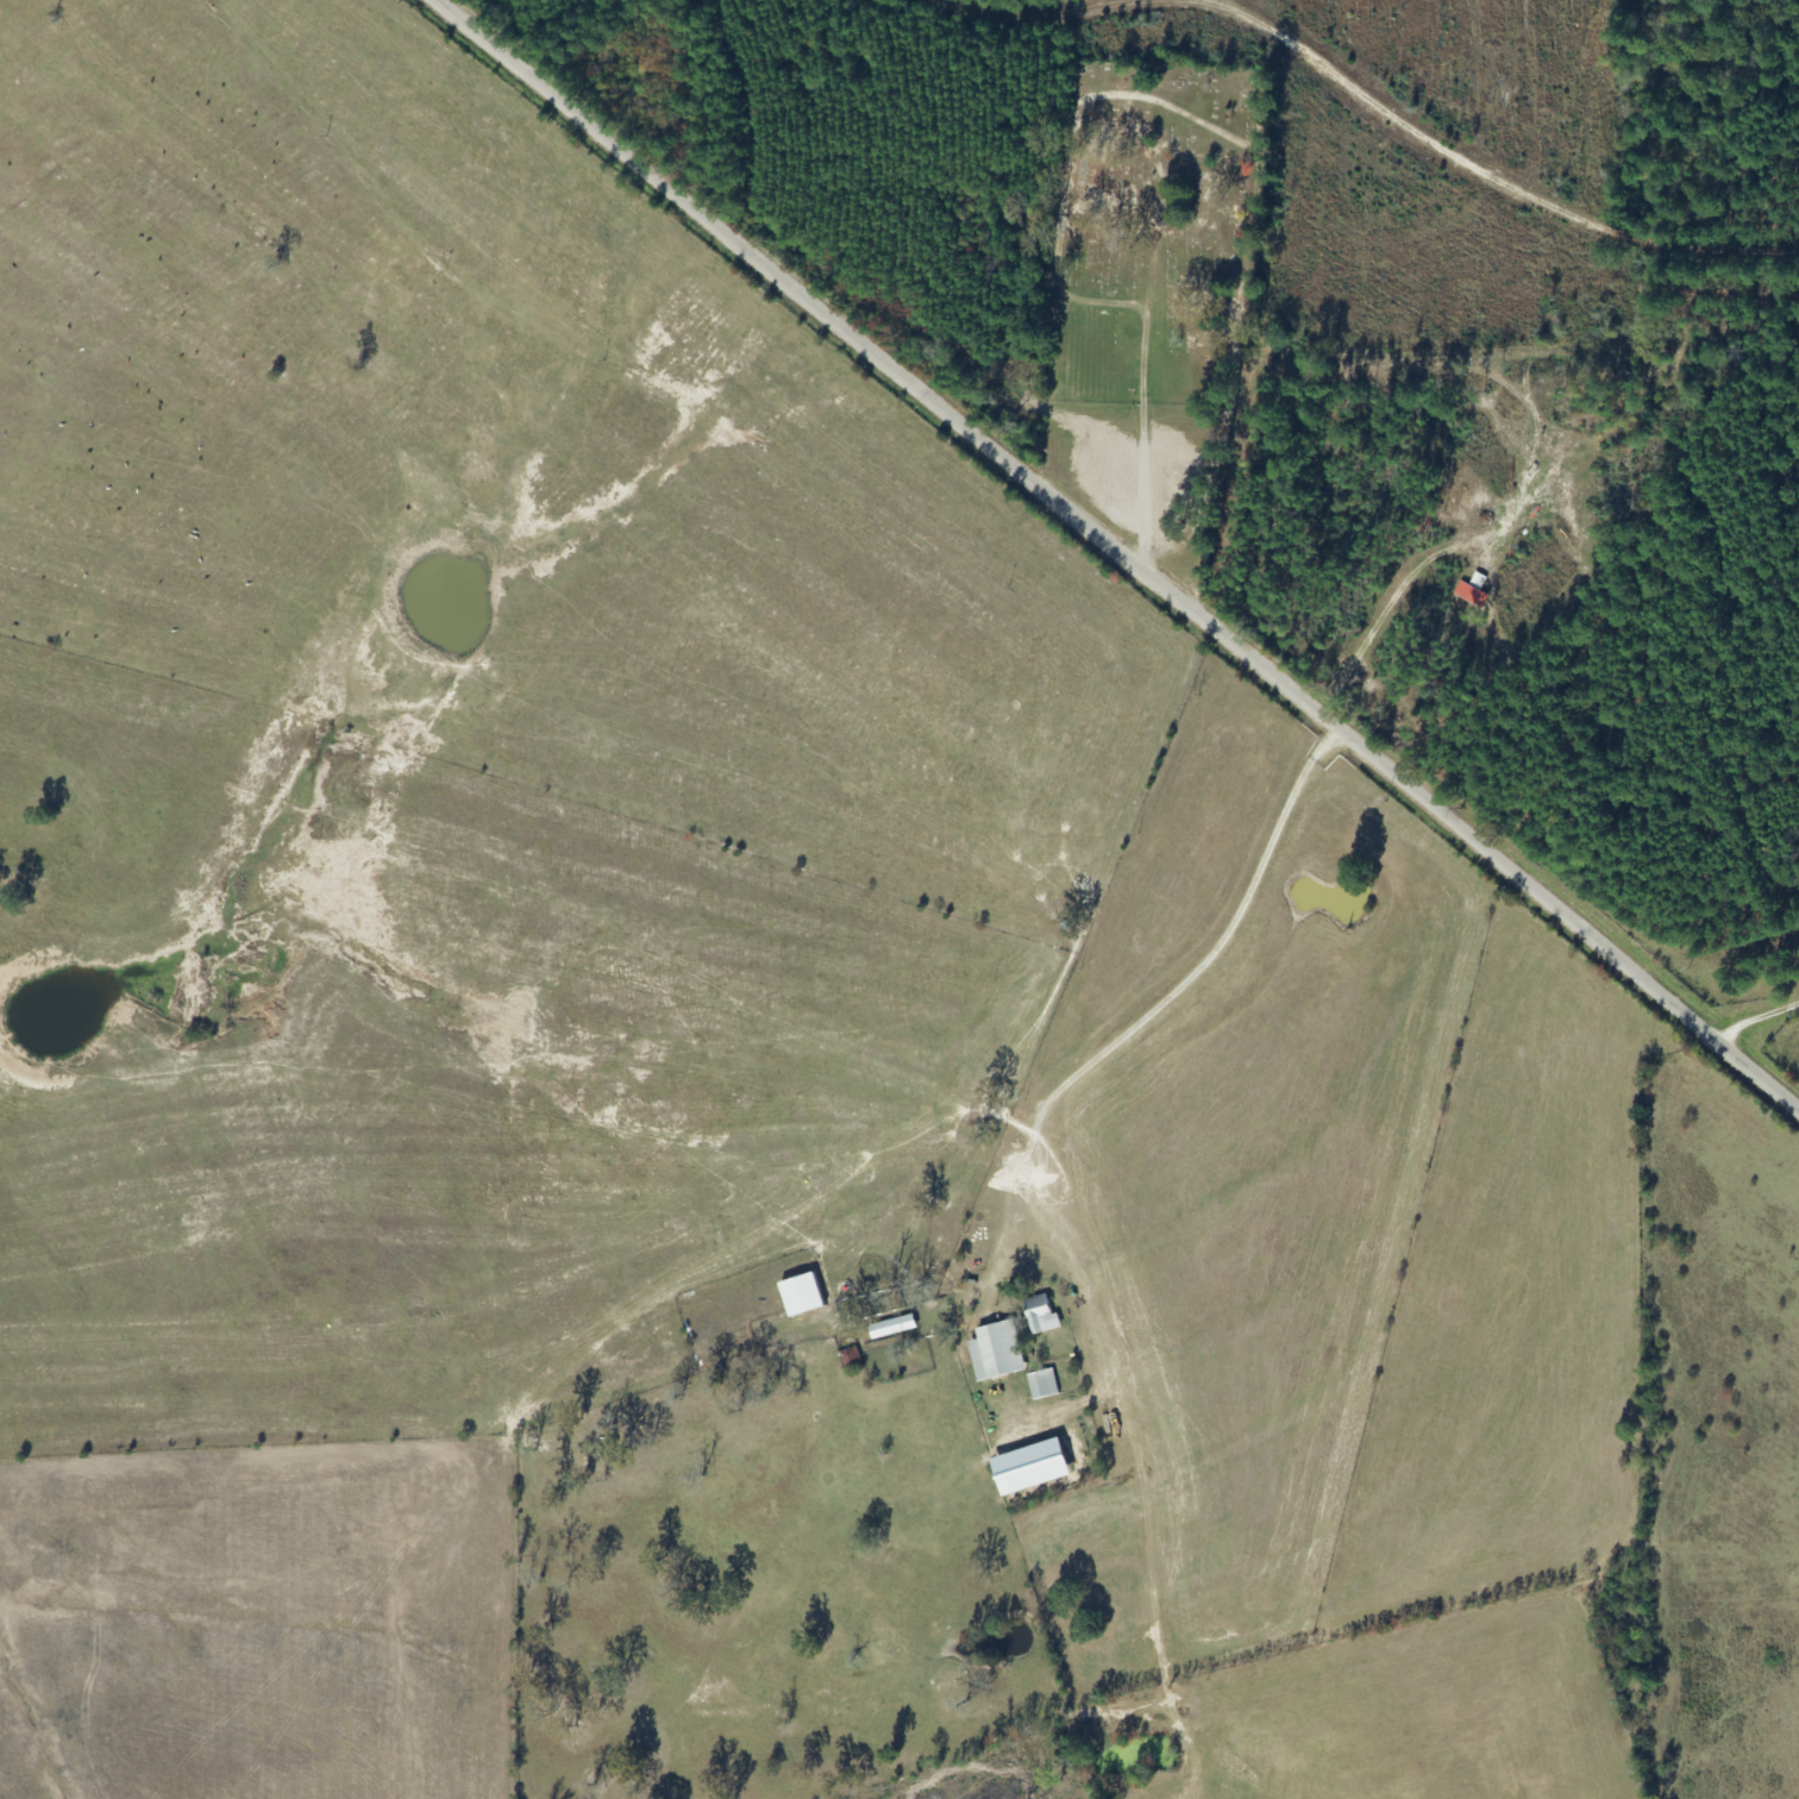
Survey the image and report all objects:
road: (1403, 100)
park: (1145, 242)
road: (1112, 553)
road: (1759, 1033)
road: (894, 1274)
building: (1041, 1315)
building: (892, 1327)
building: (997, 1352)
building: (1042, 1385)
building: (1030, 1467)

